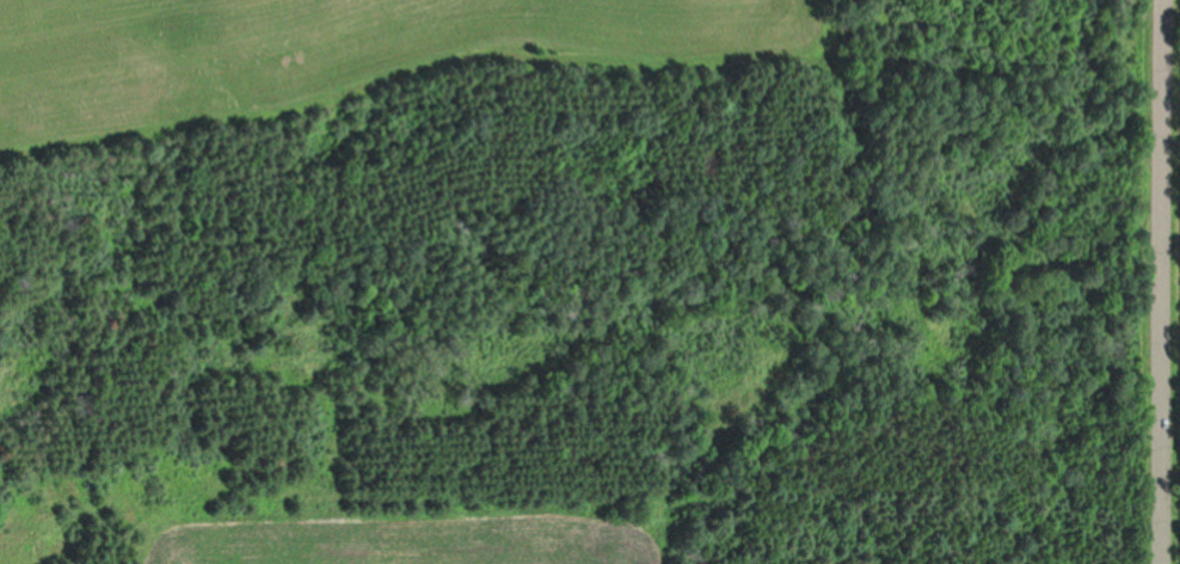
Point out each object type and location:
road: (1160, 281)

